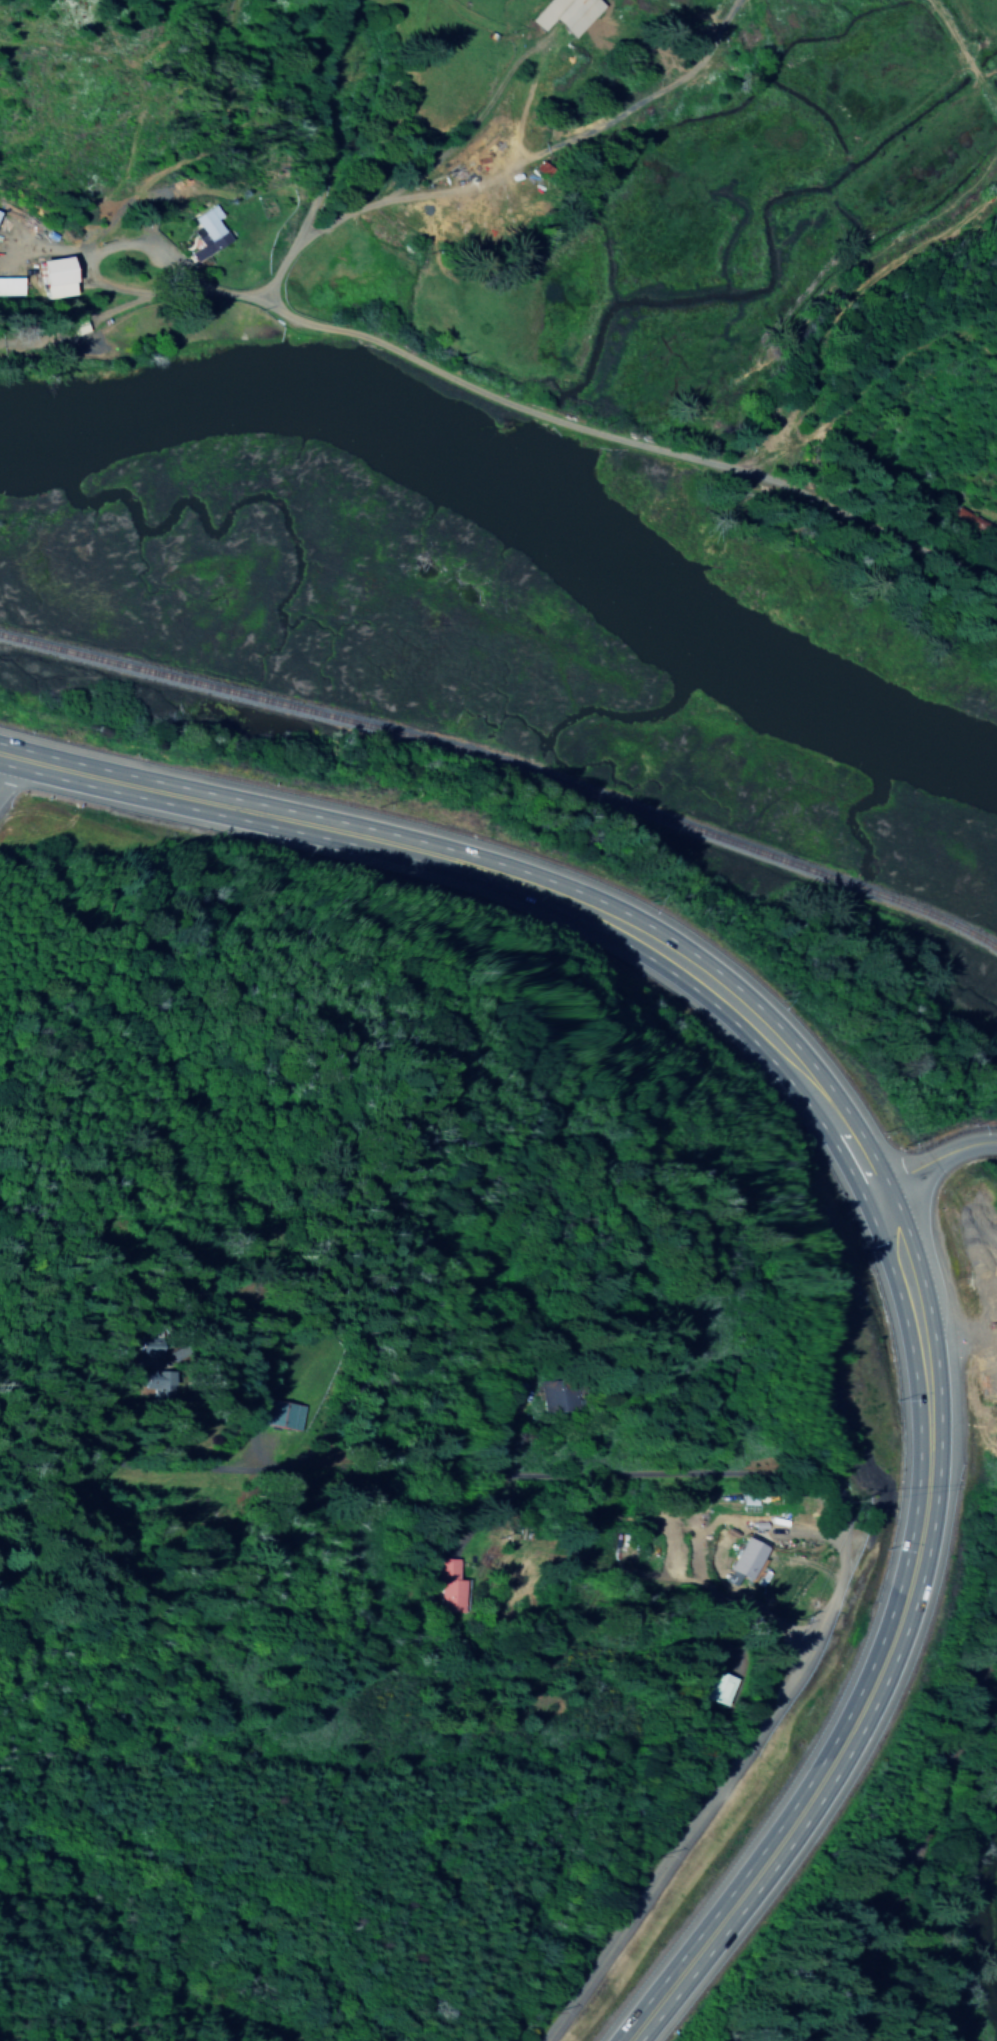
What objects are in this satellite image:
building: (563, 15)
building: (204, 234)
building: (51, 280)
building: (8, 288)
road: (616, 436)
river: (522, 500)
road: (3, 763)
railway: (504, 788)
road: (852, 1159)
road: (930, 1159)
road: (993, 1244)
road: (956, 1341)
building: (145, 1355)
building: (155, 1384)
building: (556, 1397)
building: (277, 1416)
road: (640, 1477)
building: (743, 1563)
building: (447, 1585)
building: (713, 1686)
railway: (919, 1839)
road: (676, 1865)

